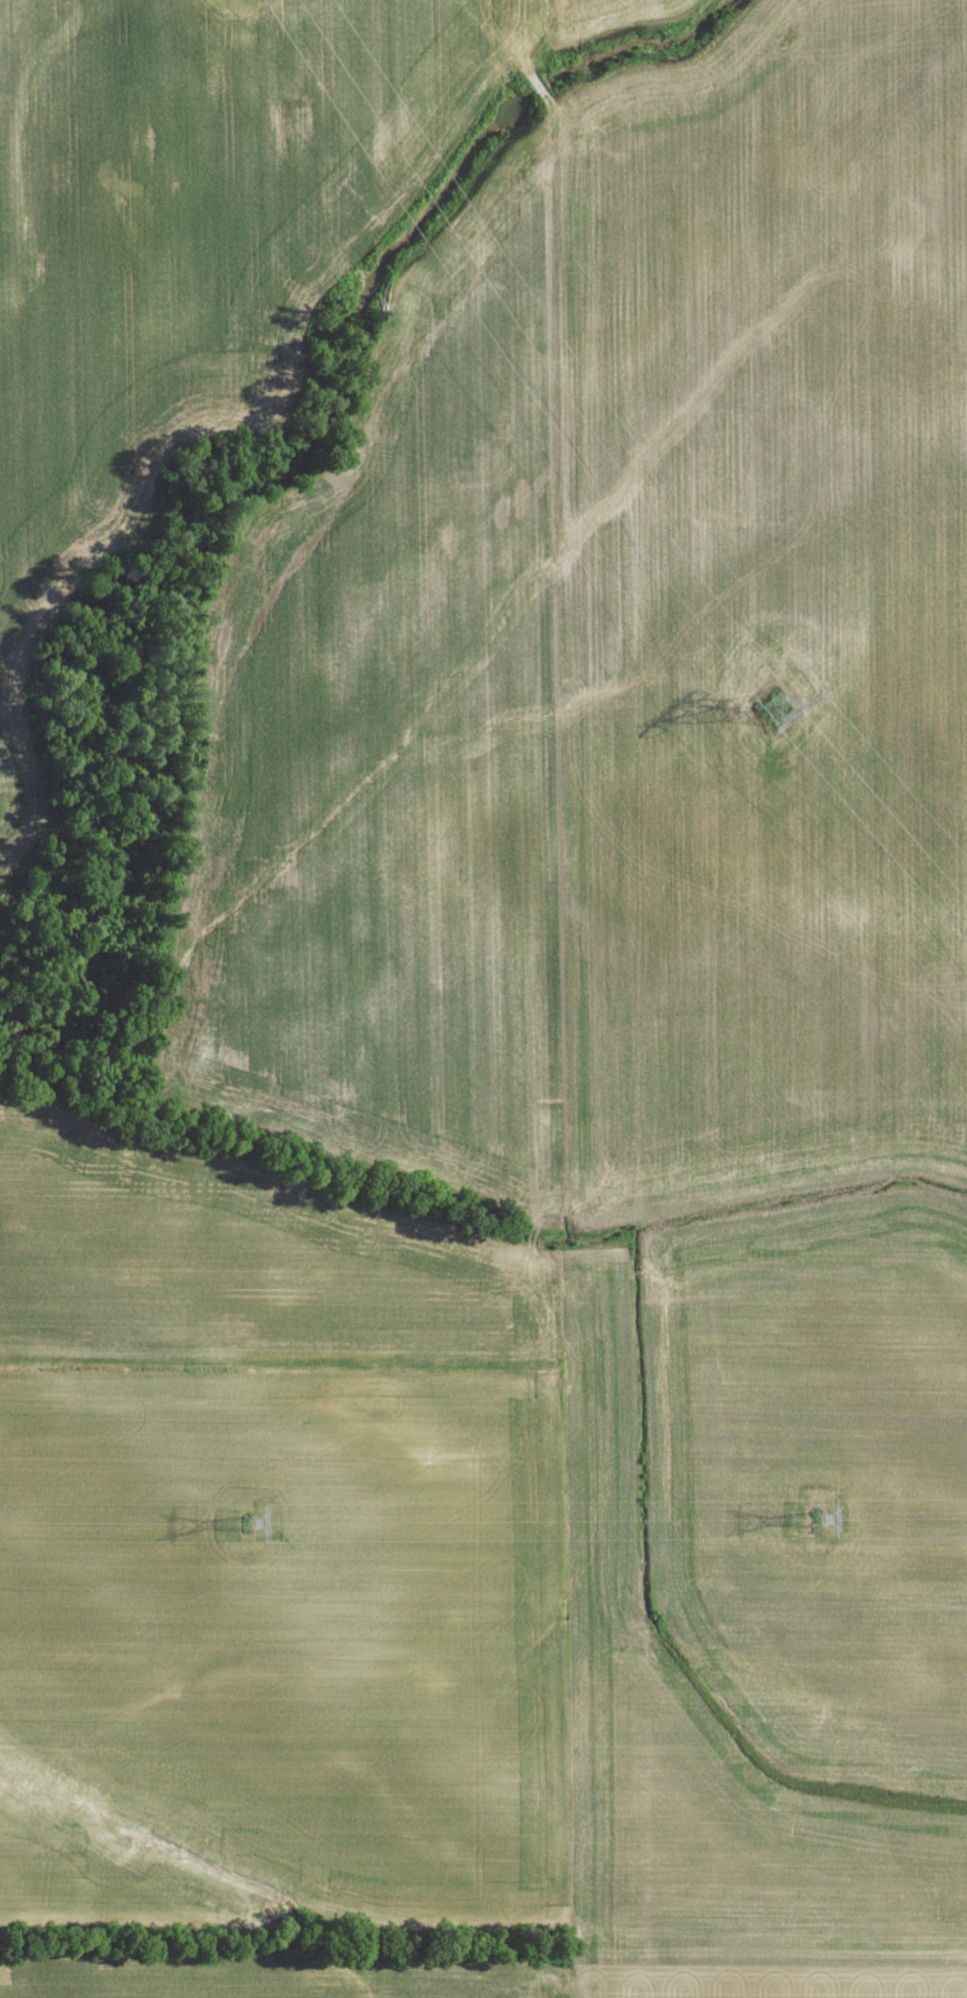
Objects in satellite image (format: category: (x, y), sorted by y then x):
power tower: (773, 711)
power tower: (813, 1523)
power tower: (247, 1529)

